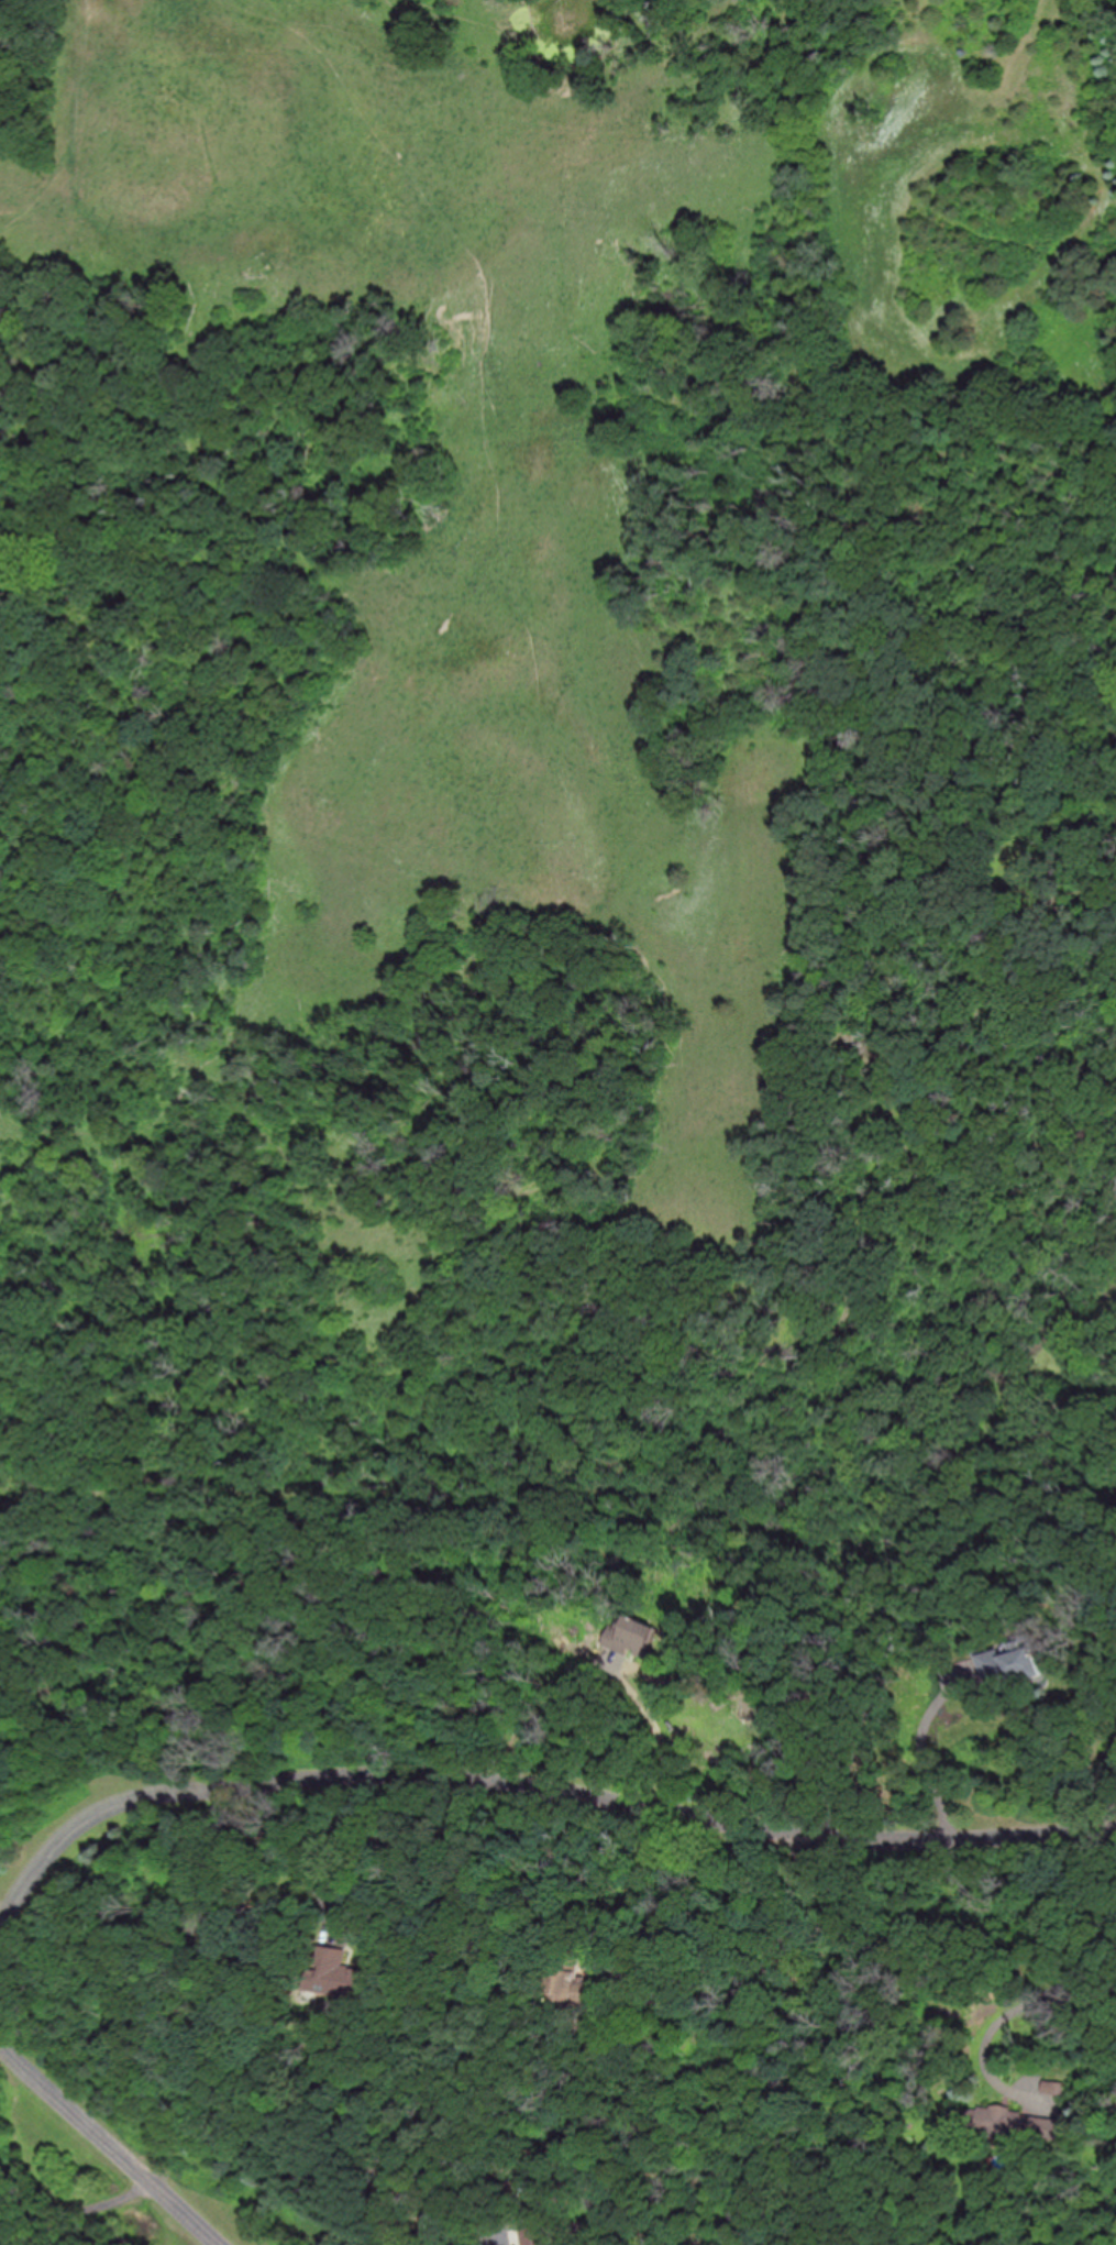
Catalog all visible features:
building: (1024, 1663)
road: (651, 1739)
road: (919, 1758)
road: (539, 1789)
road: (255, 1873)
road: (1, 1916)
road: (1, 1919)
road: (752, 1928)
building: (330, 1966)
building: (565, 1979)
road: (1037, 1992)
building: (1002, 2121)
road: (110, 2144)
road: (85, 2210)
building: (534, 2236)

